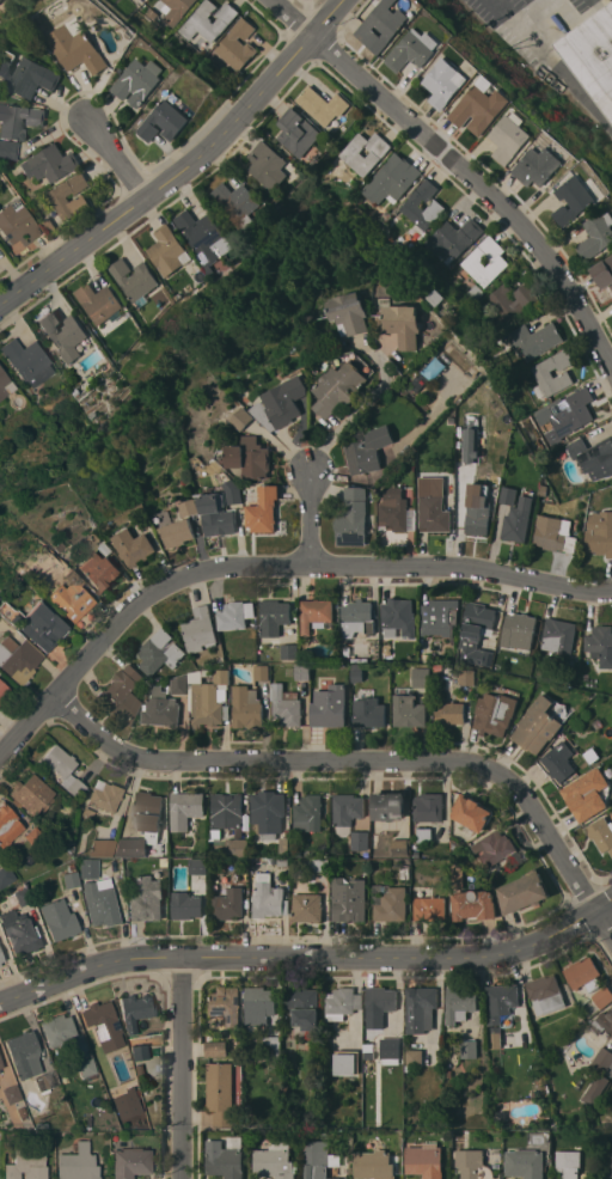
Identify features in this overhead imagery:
building: (0, 0)
building: (177, 10)
parking lot: (524, 19)
building: (208, 20)
building: (381, 25)
building: (238, 44)
building: (79, 47)
building: (414, 49)
building: (592, 54)
road: (552, 63)
building: (26, 74)
building: (140, 81)
building: (445, 83)
building: (322, 104)
building: (479, 106)
building: (19, 120)
building: (164, 122)
building: (298, 132)
building: (510, 138)
building: (8, 149)
building: (365, 152)
road: (117, 160)
building: (50, 163)
road: (182, 163)
building: (268, 165)
building: (538, 166)
road: (459, 167)
building: (392, 179)
building: (59, 198)
building: (574, 200)
building: (237, 203)
building: (411, 203)
building: (17, 222)
building: (596, 236)
building: (453, 237)
building: (209, 242)
building: (169, 251)
building: (485, 261)
building: (604, 273)
building: (134, 279)
building: (500, 295)
building: (98, 301)
building: (348, 313)
building: (403, 324)
building: (65, 334)
building: (535, 338)
building: (27, 361)
building: (543, 374)
building: (2, 383)
building: (338, 389)
building: (282, 403)
road: (353, 413)
building: (567, 414)
building: (244, 417)
building: (471, 445)
building: (366, 452)
building: (592, 456)
building: (250, 457)
building: (234, 491)
building: (433, 505)
building: (190, 507)
building: (264, 509)
building: (477, 509)
building: (396, 511)
building: (218, 514)
building: (515, 515)
building: (351, 517)
road: (310, 518)
building: (178, 532)
building: (555, 533)
building: (599, 533)
building: (135, 546)
road: (268, 564)
building: (100, 570)
building: (71, 597)
building: (316, 613)
building: (235, 615)
building: (399, 616)
building: (274, 617)
building: (356, 617)
building: (439, 617)
building: (36, 623)
building: (518, 628)
building: (200, 630)
building: (476, 633)
building: (558, 635)
building: (600, 645)
building: (289, 650)
building: (160, 652)
building: (18, 659)
building: (302, 671)
building: (262, 672)
building: (356, 672)
building: (421, 677)
building: (467, 677)
building: (180, 684)
building: (4, 691)
building: (123, 694)
building: (208, 697)
building: (284, 705)
building: (246, 707)
building: (329, 707)
building: (161, 708)
building: (408, 710)
building: (369, 711)
building: (449, 713)
building: (492, 716)
building: (537, 725)
road: (367, 762)
building: (558, 764)
building: (63, 769)
building: (32, 794)
building: (587, 794)
building: (105, 796)
building: (387, 806)
building: (428, 807)
building: (185, 810)
building: (227, 811)
building: (347, 811)
building: (471, 812)
building: (268, 813)
building: (307, 813)
building: (7, 825)
building: (143, 825)
building: (601, 832)
building: (424, 835)
building: (36, 838)
building: (360, 839)
building: (102, 847)
building: (237, 847)
building: (400, 847)
building: (494, 848)
building: (320, 865)
building: (198, 866)
building: (88, 870)
building: (6, 875)
building: (71, 879)
building: (524, 892)
building: (268, 896)
building: (23, 897)
building: (146, 898)
building: (349, 899)
building: (306, 902)
building: (228, 904)
building: (428, 904)
building: (475, 904)
building: (186, 905)
building: (392, 905)
building: (100, 906)
building: (61, 918)
building: (20, 931)
building: (0, 948)
road: (308, 957)
building: (1, 958)
building: (0, 964)
building: (583, 973)
building: (546, 994)
building: (602, 996)
building: (381, 998)
building: (501, 1001)
building: (342, 1002)
building: (226, 1003)
building: (259, 1003)
building: (459, 1003)
building: (305, 1006)
building: (421, 1009)
building: (135, 1010)
building: (102, 1020)
building: (602, 1022)
building: (57, 1028)
building: (495, 1037)
building: (273, 1044)
building: (388, 1047)
building: (216, 1049)
building: (470, 1049)
building: (137, 1051)
building: (24, 1053)
building: (414, 1057)
building: (348, 1062)
building: (1, 1063)
building: (87, 1067)
road: (180, 1069)
building: (600, 1075)
building: (48, 1080)
building: (221, 1093)
building: (12, 1094)
building: (127, 1104)
building: (226, 1157)
building: (130, 1159)
building: (276, 1161)
building: (320, 1161)
building: (424, 1161)
building: (525, 1161)
building: (78, 1163)
building: (568, 1163)
building: (26, 1165)
building: (374, 1165)
building: (473, 1165)
building: (610, 1165)
building: (592, 1178)

